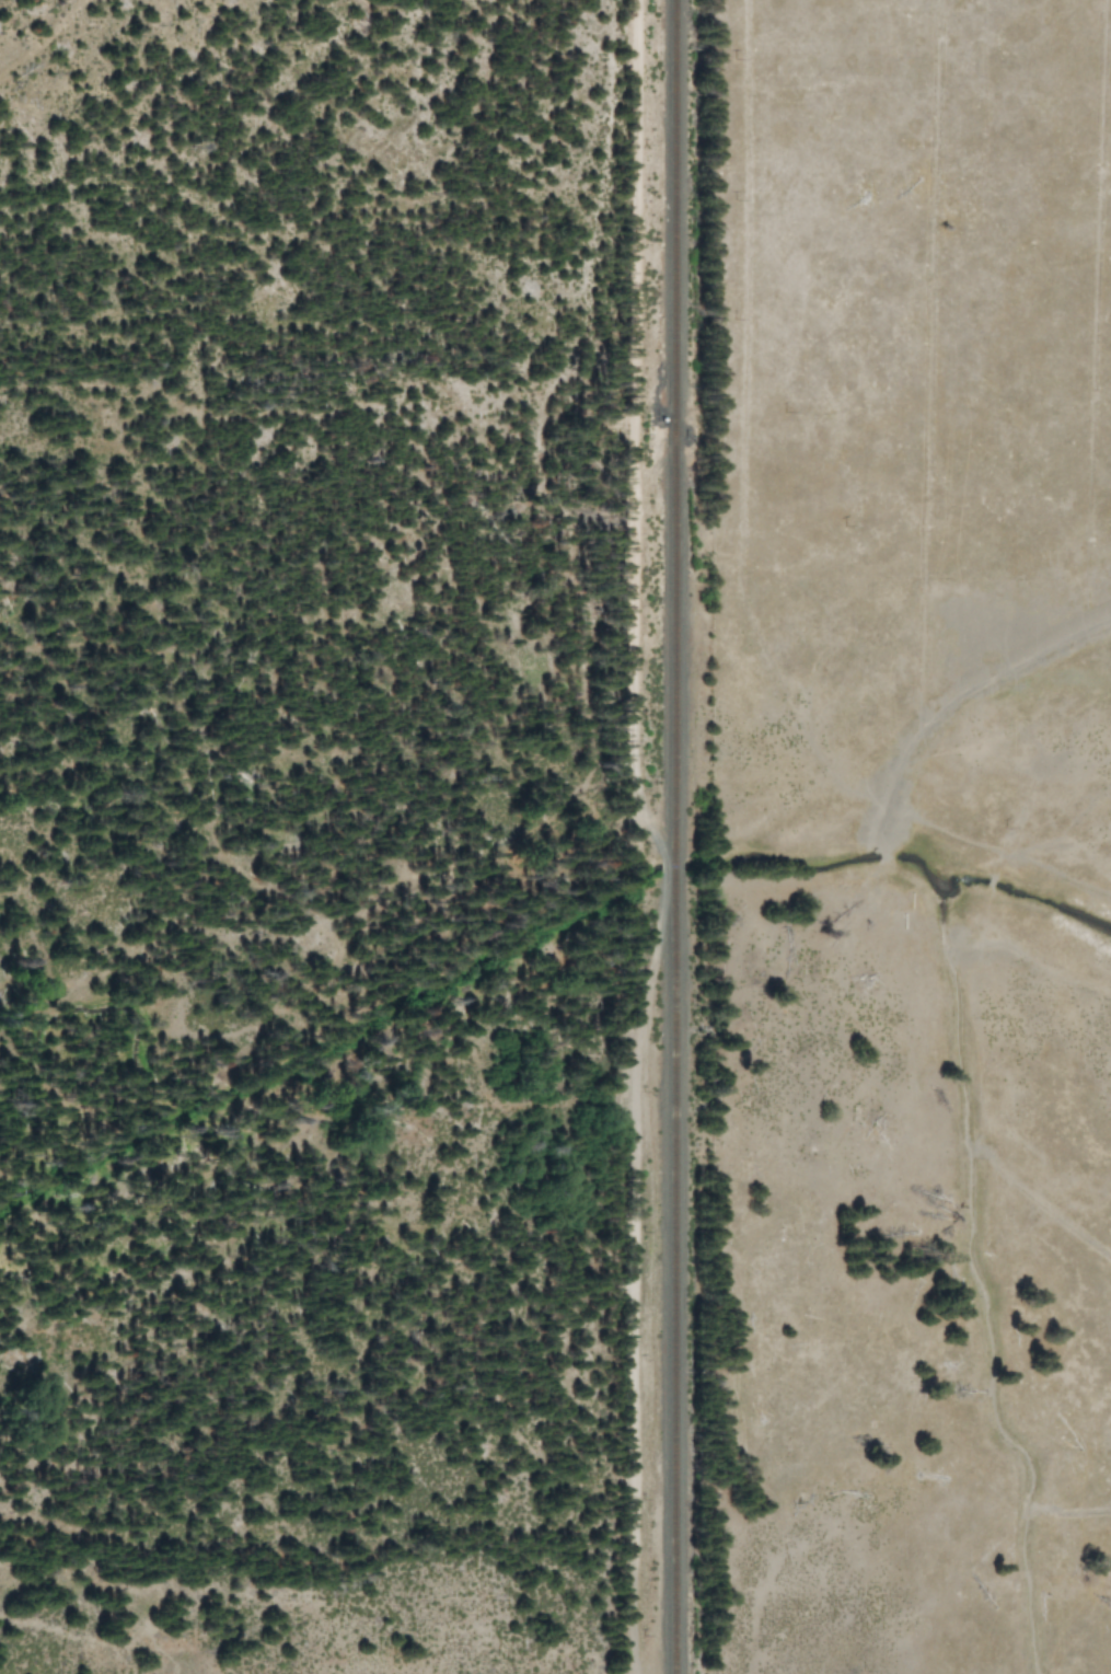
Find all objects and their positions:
railway: (671, 836)

